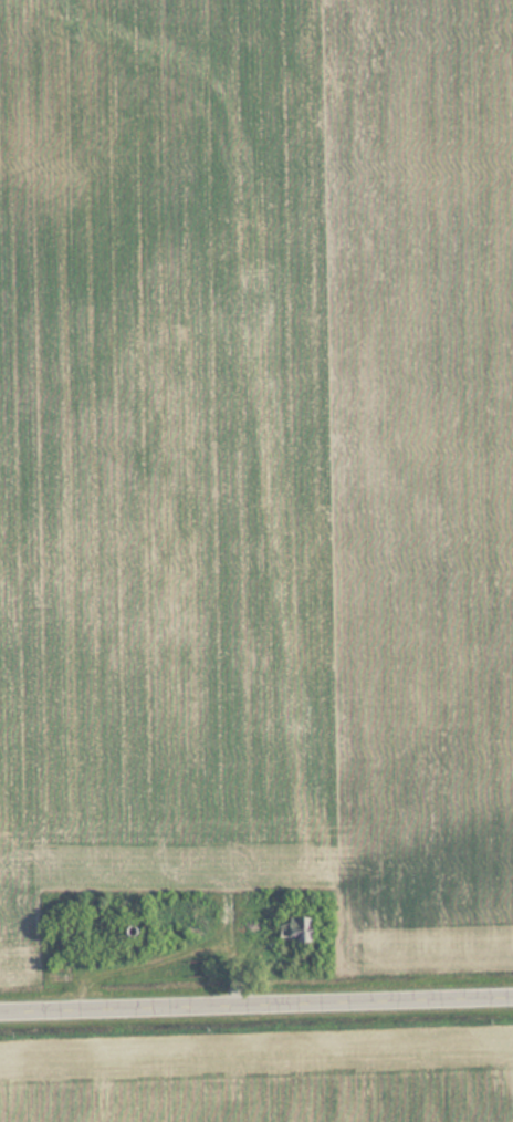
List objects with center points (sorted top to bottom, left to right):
building: (287, 929)
building: (124, 932)
road: (256, 998)

